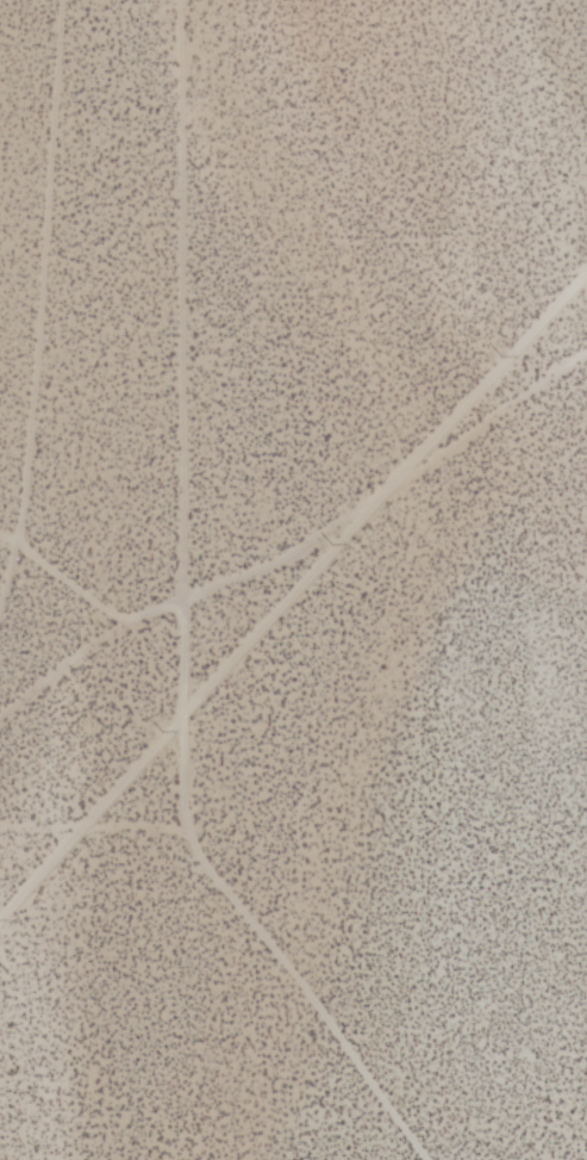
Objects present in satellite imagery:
road: (36, 252)
road: (466, 445)
road: (68, 563)
road: (241, 572)
road: (292, 602)
road: (199, 621)
road: (69, 659)
road: (99, 824)

